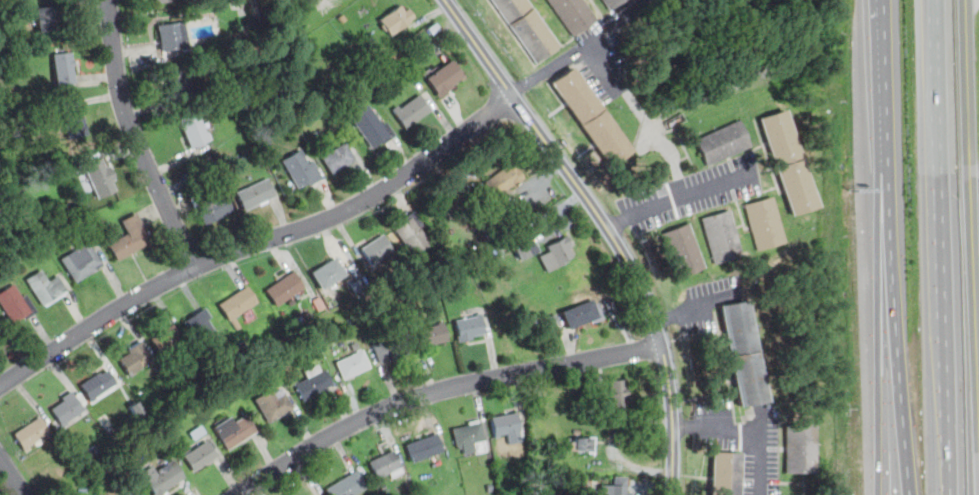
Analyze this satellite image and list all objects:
building: (165, 2)
building: (614, 3)
building: (573, 15)
building: (342, 17)
building: (48, 21)
building: (397, 21)
building: (529, 28)
building: (435, 30)
building: (171, 39)
building: (371, 44)
road: (581, 45)
building: (64, 71)
building: (445, 77)
building: (181, 81)
building: (413, 111)
building: (590, 117)
building: (74, 122)
building: (370, 123)
building: (195, 131)
road: (135, 138)
road: (662, 142)
building: (721, 143)
building: (339, 161)
building: (788, 163)
building: (205, 166)
building: (302, 172)
building: (99, 176)
building: (190, 181)
building: (503, 181)
building: (134, 195)
building: (256, 197)
road: (971, 202)
building: (211, 208)
road: (644, 211)
building: (480, 218)
building: (763, 225)
building: (505, 226)
road: (606, 229)
building: (415, 235)
building: (493, 236)
building: (720, 237)
building: (132, 240)
road: (259, 242)
building: (526, 247)
road: (882, 247)
road: (939, 247)
building: (379, 251)
building: (682, 252)
building: (559, 255)
building: (83, 263)
building: (331, 274)
building: (47, 290)
building: (287, 290)
building: (240, 304)
building: (16, 307)
building: (581, 314)
building: (472, 328)
building: (205, 330)
building: (434, 337)
building: (168, 341)
building: (355, 348)
building: (395, 350)
building: (742, 355)
building: (137, 359)
building: (355, 366)
building: (314, 384)
building: (99, 385)
road: (439, 391)
building: (615, 394)
building: (275, 405)
building: (69, 409)
building: (509, 428)
road: (749, 430)
building: (236, 433)
building: (33, 434)
building: (199, 434)
building: (473, 438)
building: (583, 445)
building: (426, 449)
building: (799, 450)
building: (199, 457)
building: (389, 465)
building: (724, 474)
road: (10, 478)
building: (163, 478)
building: (350, 485)
building: (617, 487)
building: (136, 493)
building: (568, 494)

